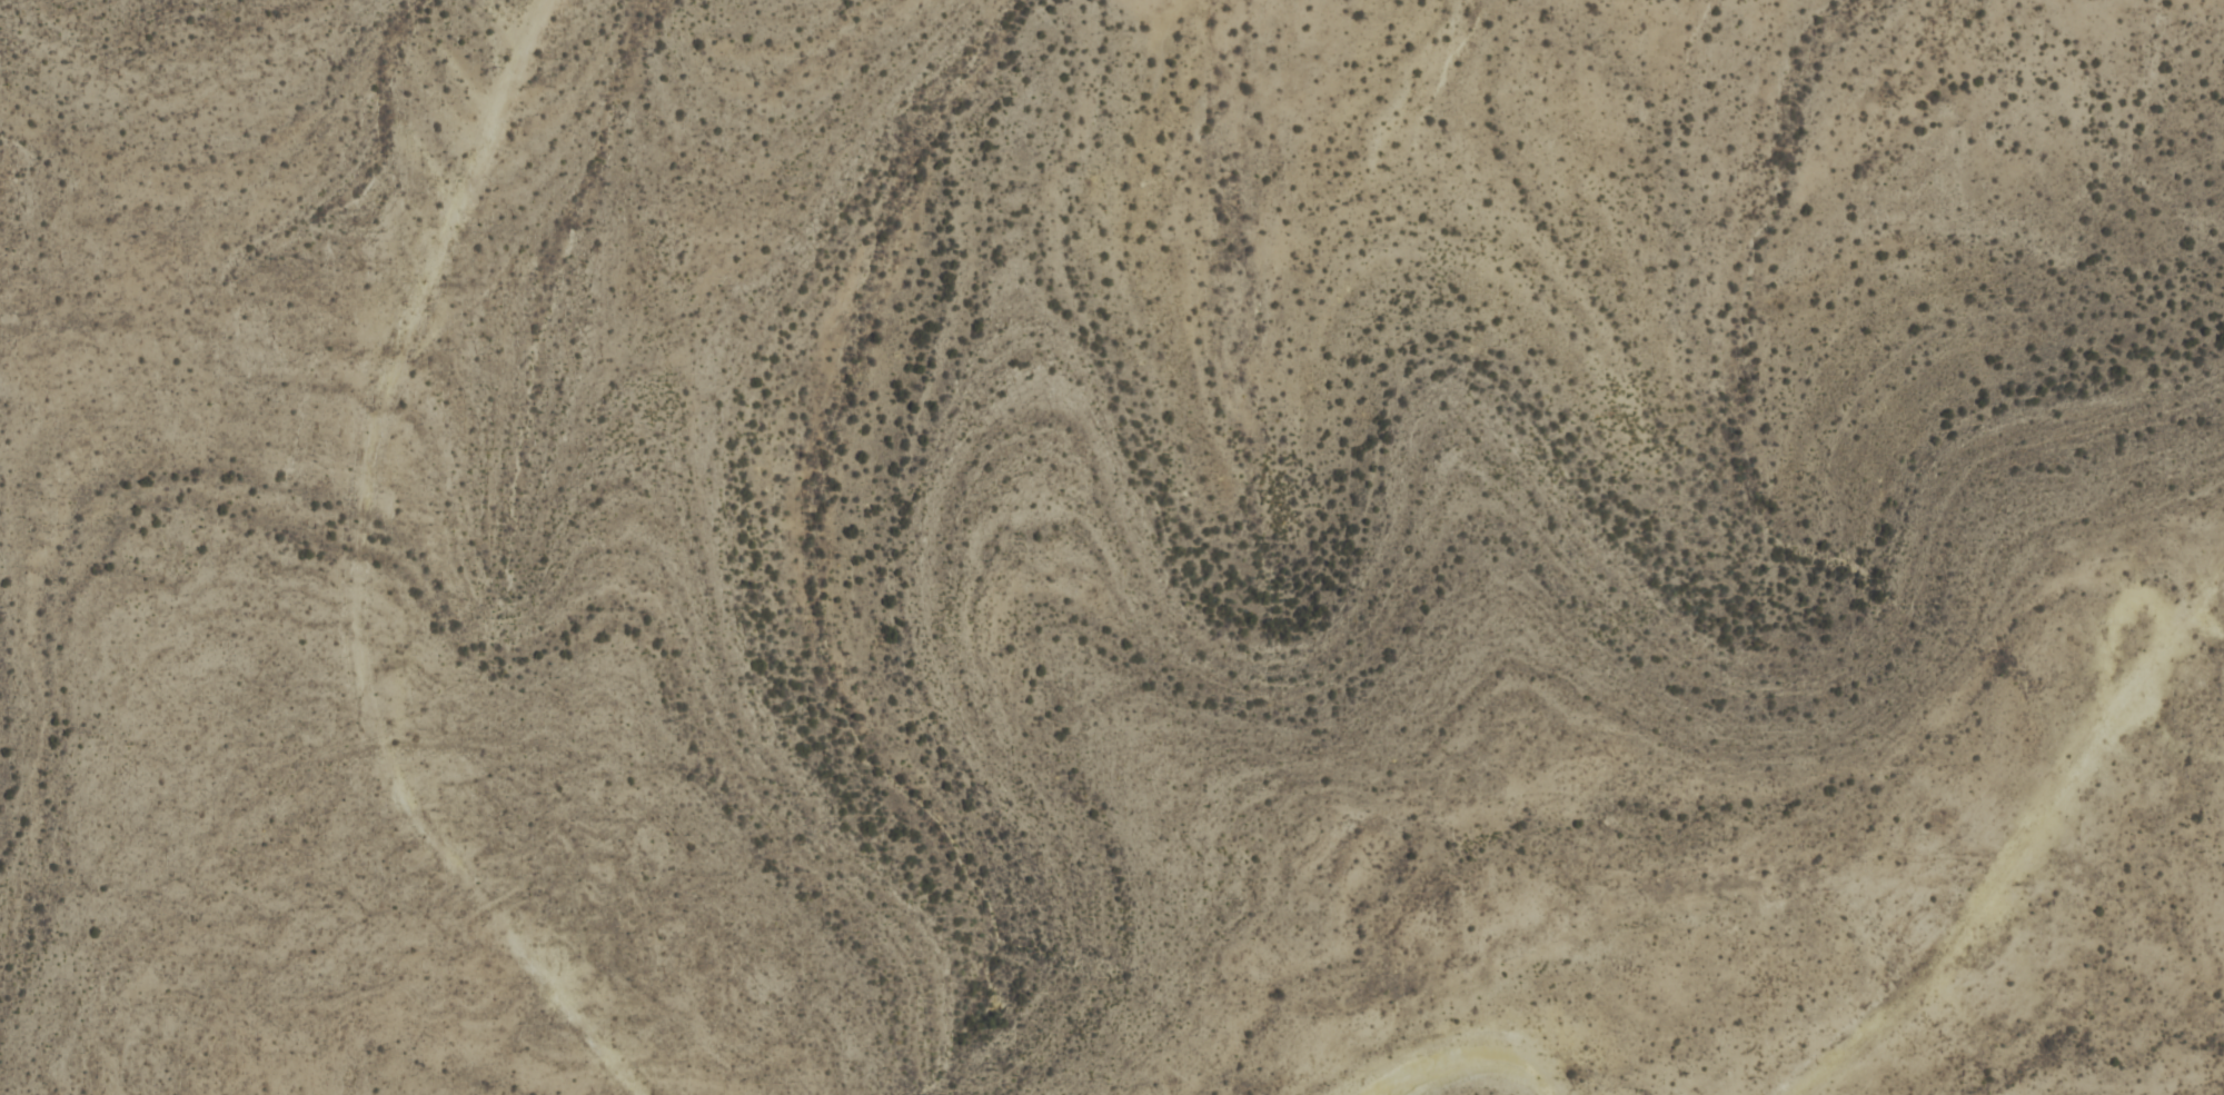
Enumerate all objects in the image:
park: (1112, 547)
road: (357, 575)
road: (2115, 713)
road: (1475, 1059)

